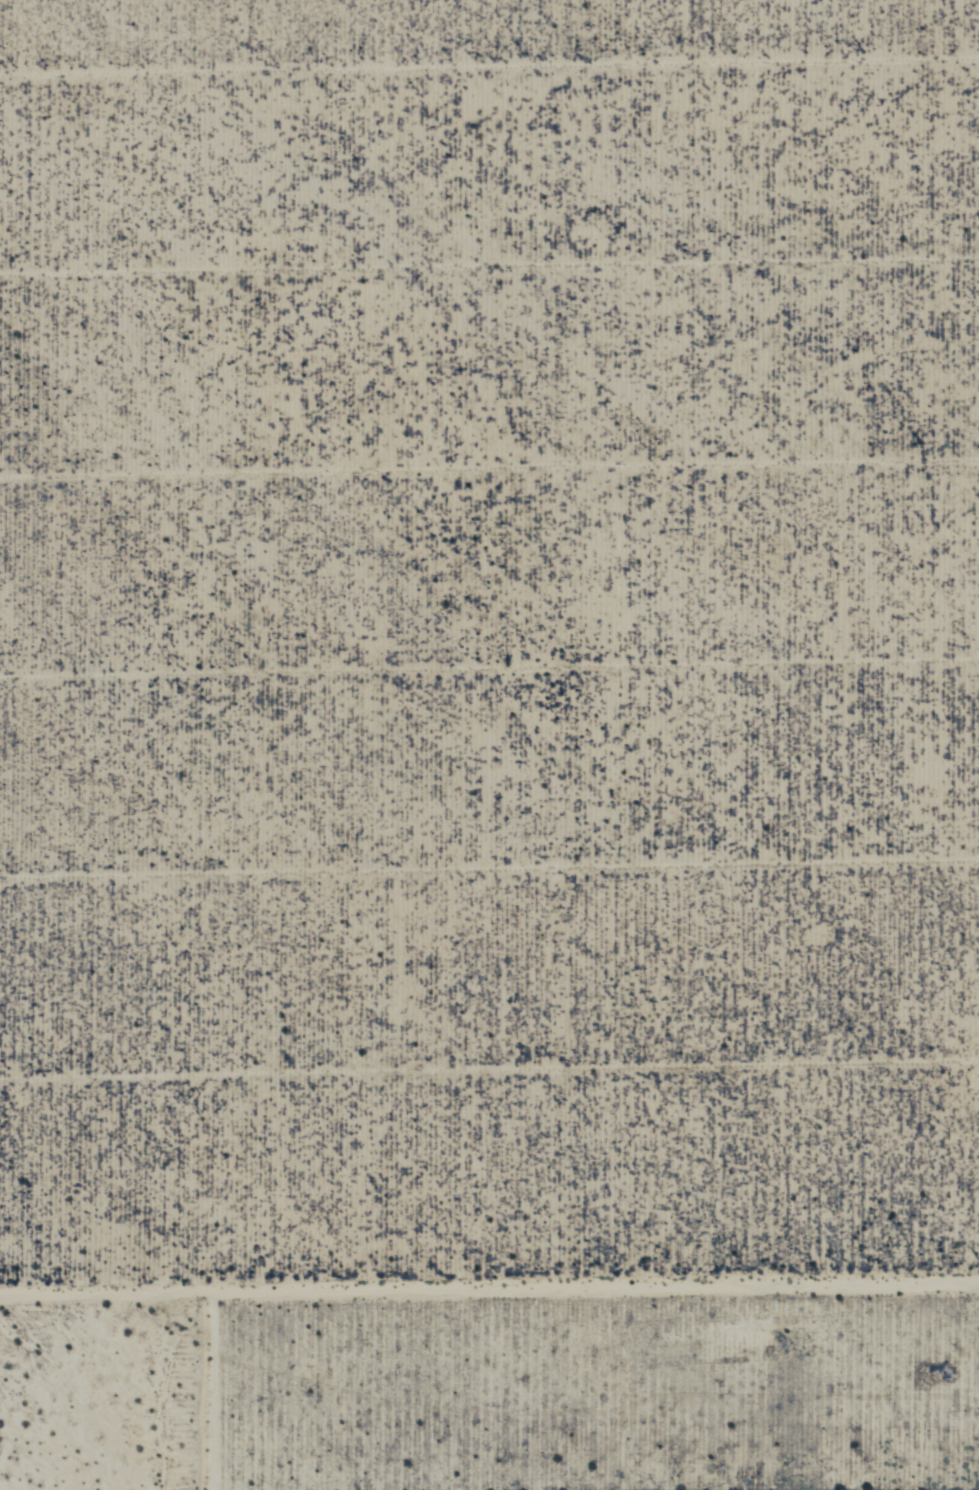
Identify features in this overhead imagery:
building: (932, 969)

